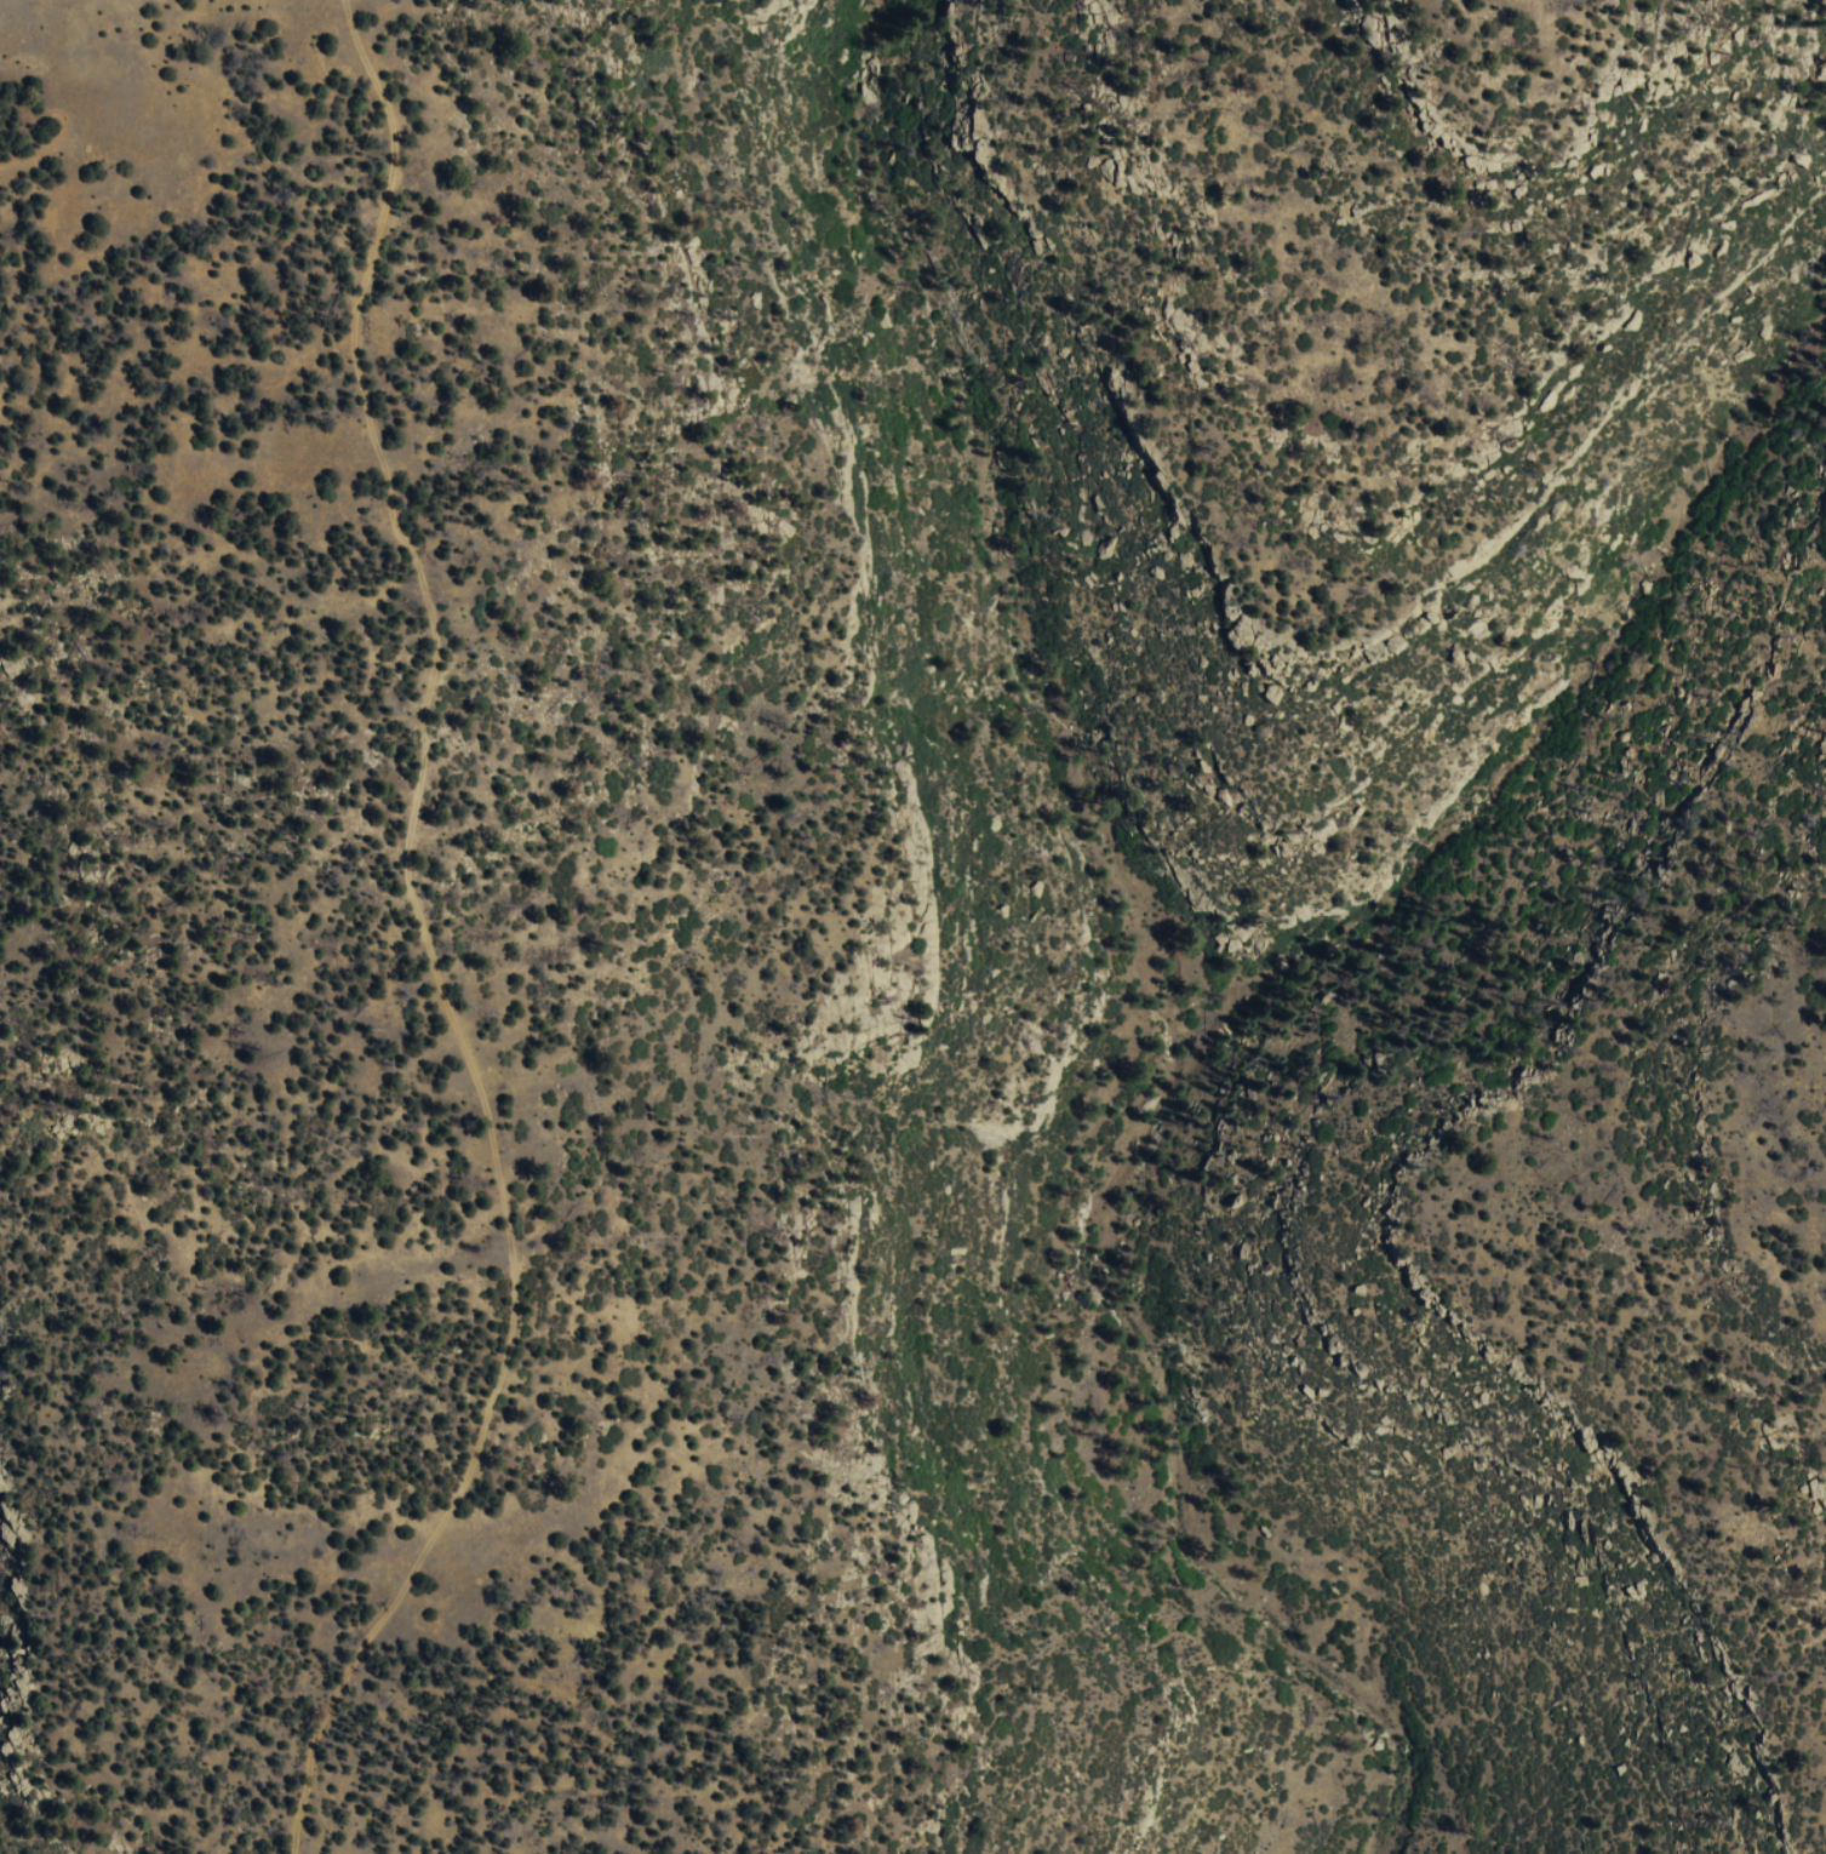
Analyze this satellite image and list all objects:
road: (427, 943)

